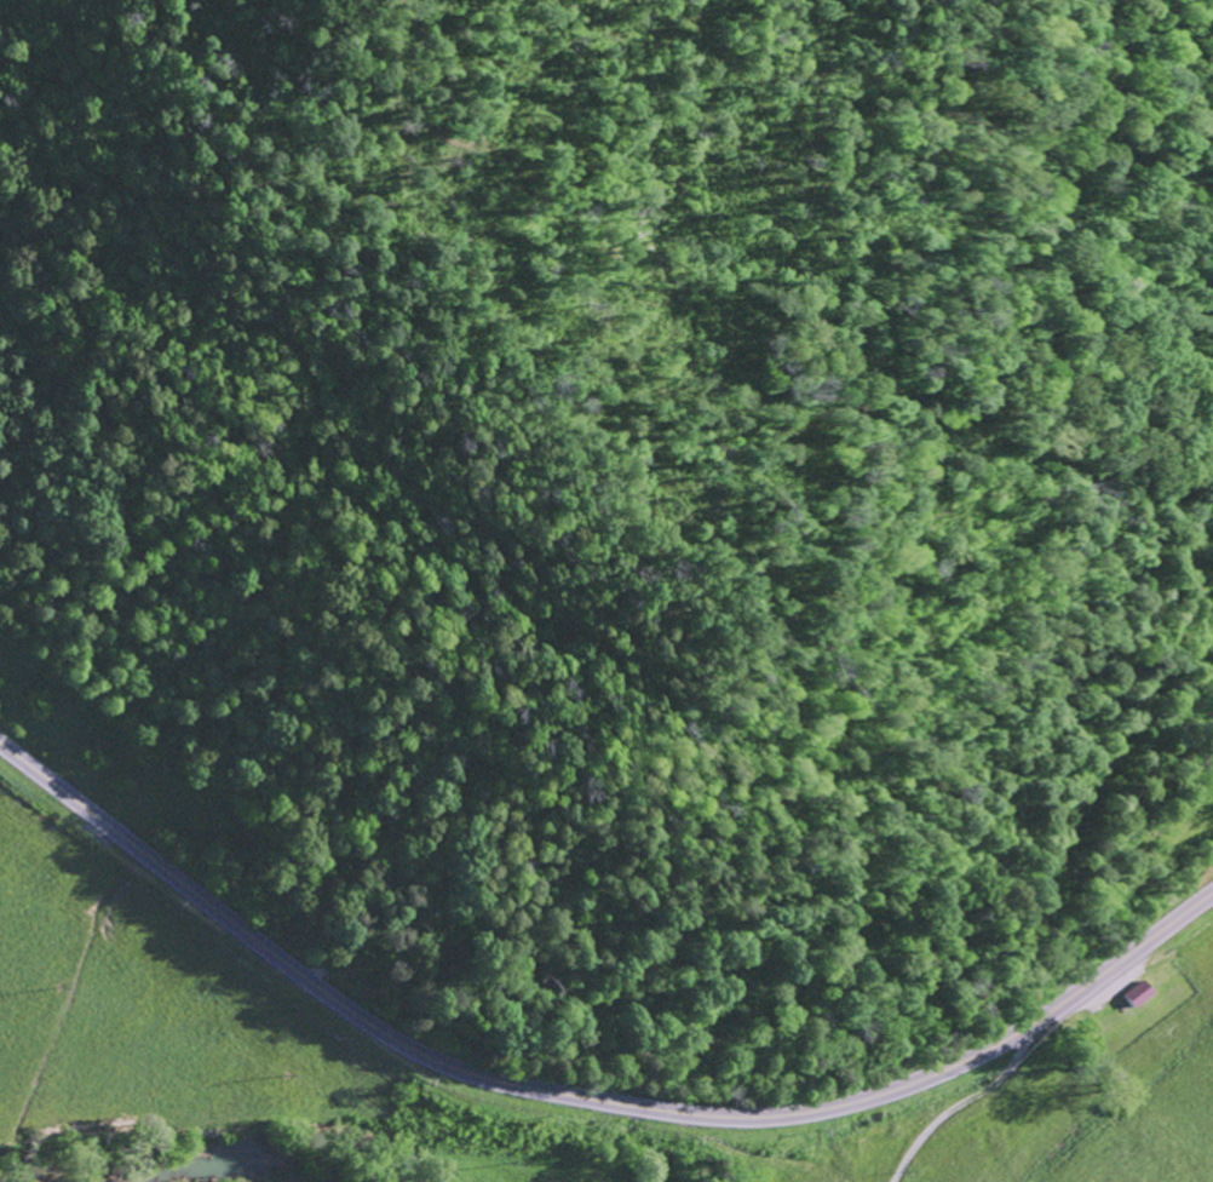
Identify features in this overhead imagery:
park: (1161, 847)
building: (1138, 993)
road: (793, 1026)
road: (582, 1097)
road: (967, 1102)
road: (771, 1163)

